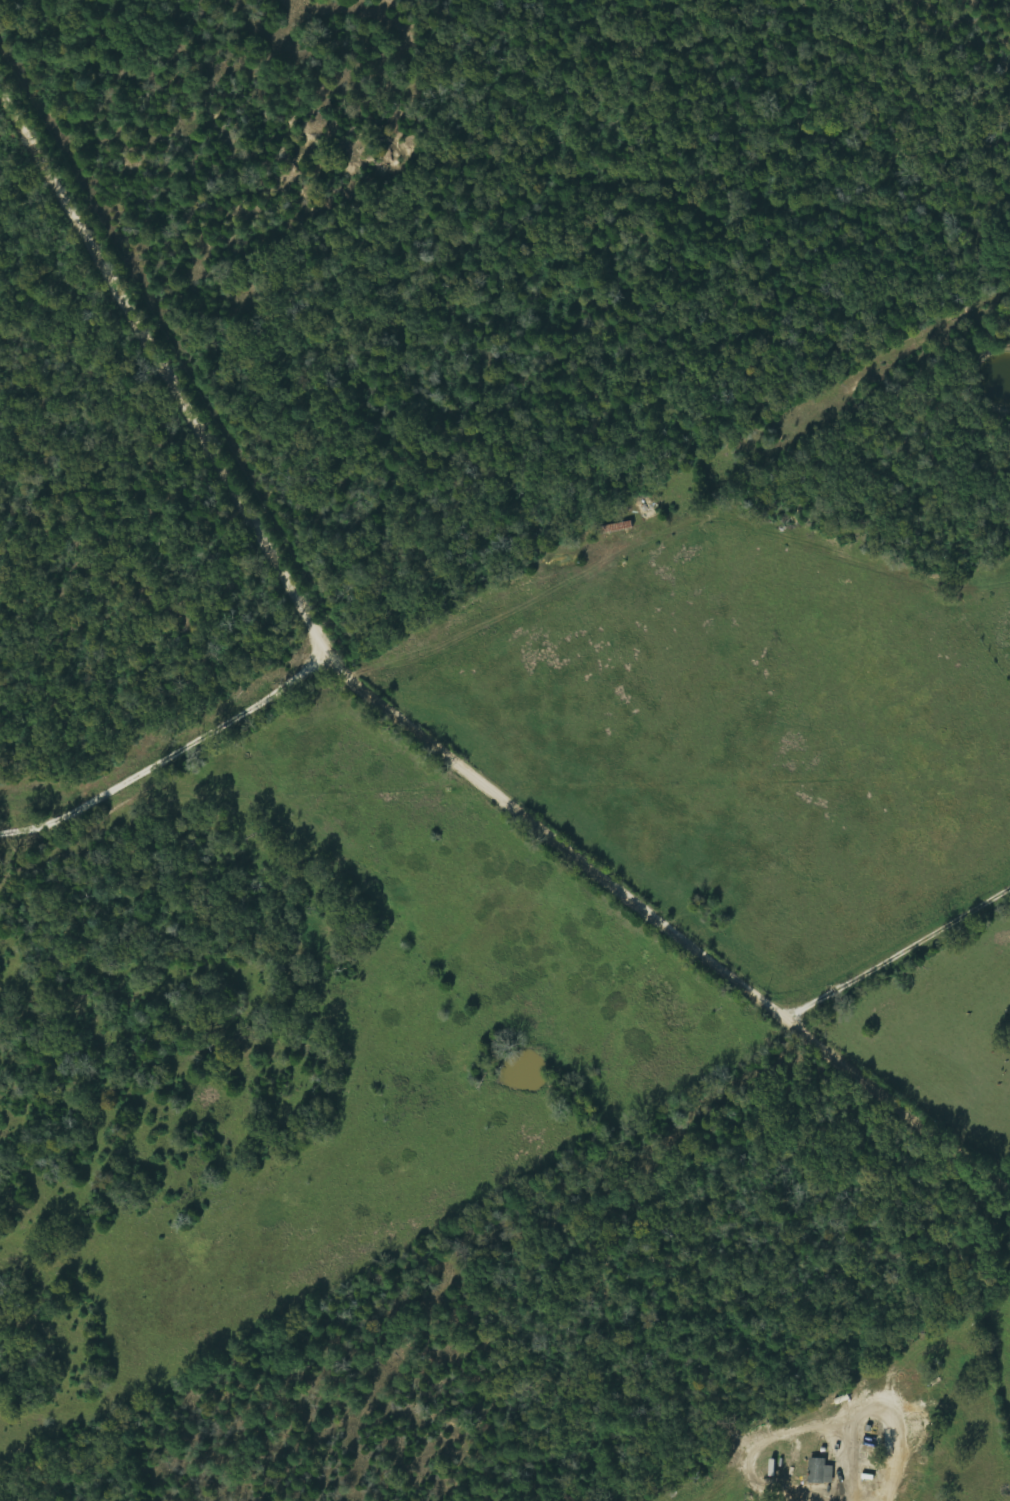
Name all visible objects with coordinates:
road: (191, 395)
building: (647, 509)
road: (667, 547)
road: (519, 836)
building: (822, 1472)

